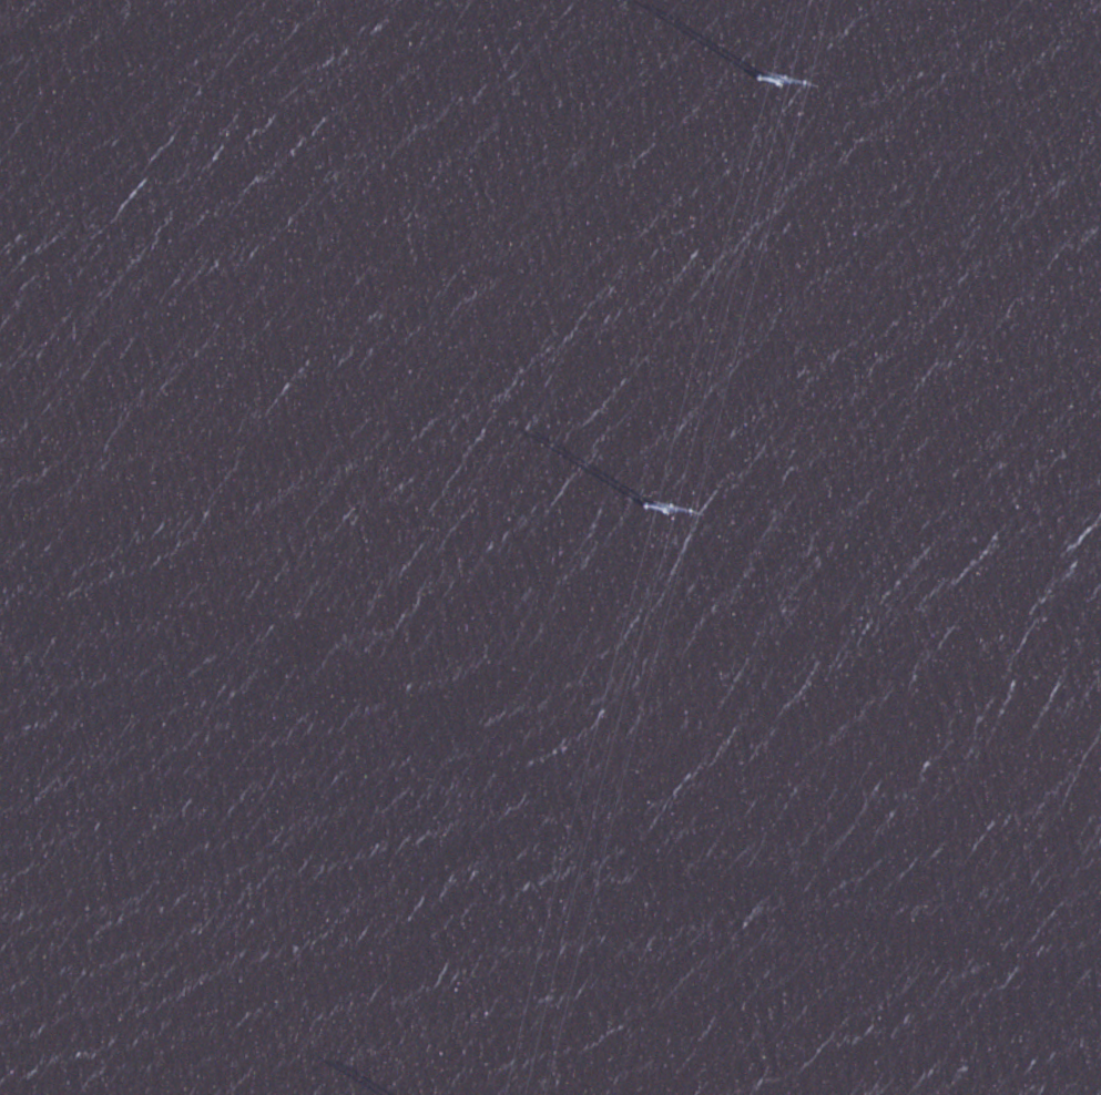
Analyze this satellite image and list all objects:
power tower: (761, 91)
power tower: (644, 505)

